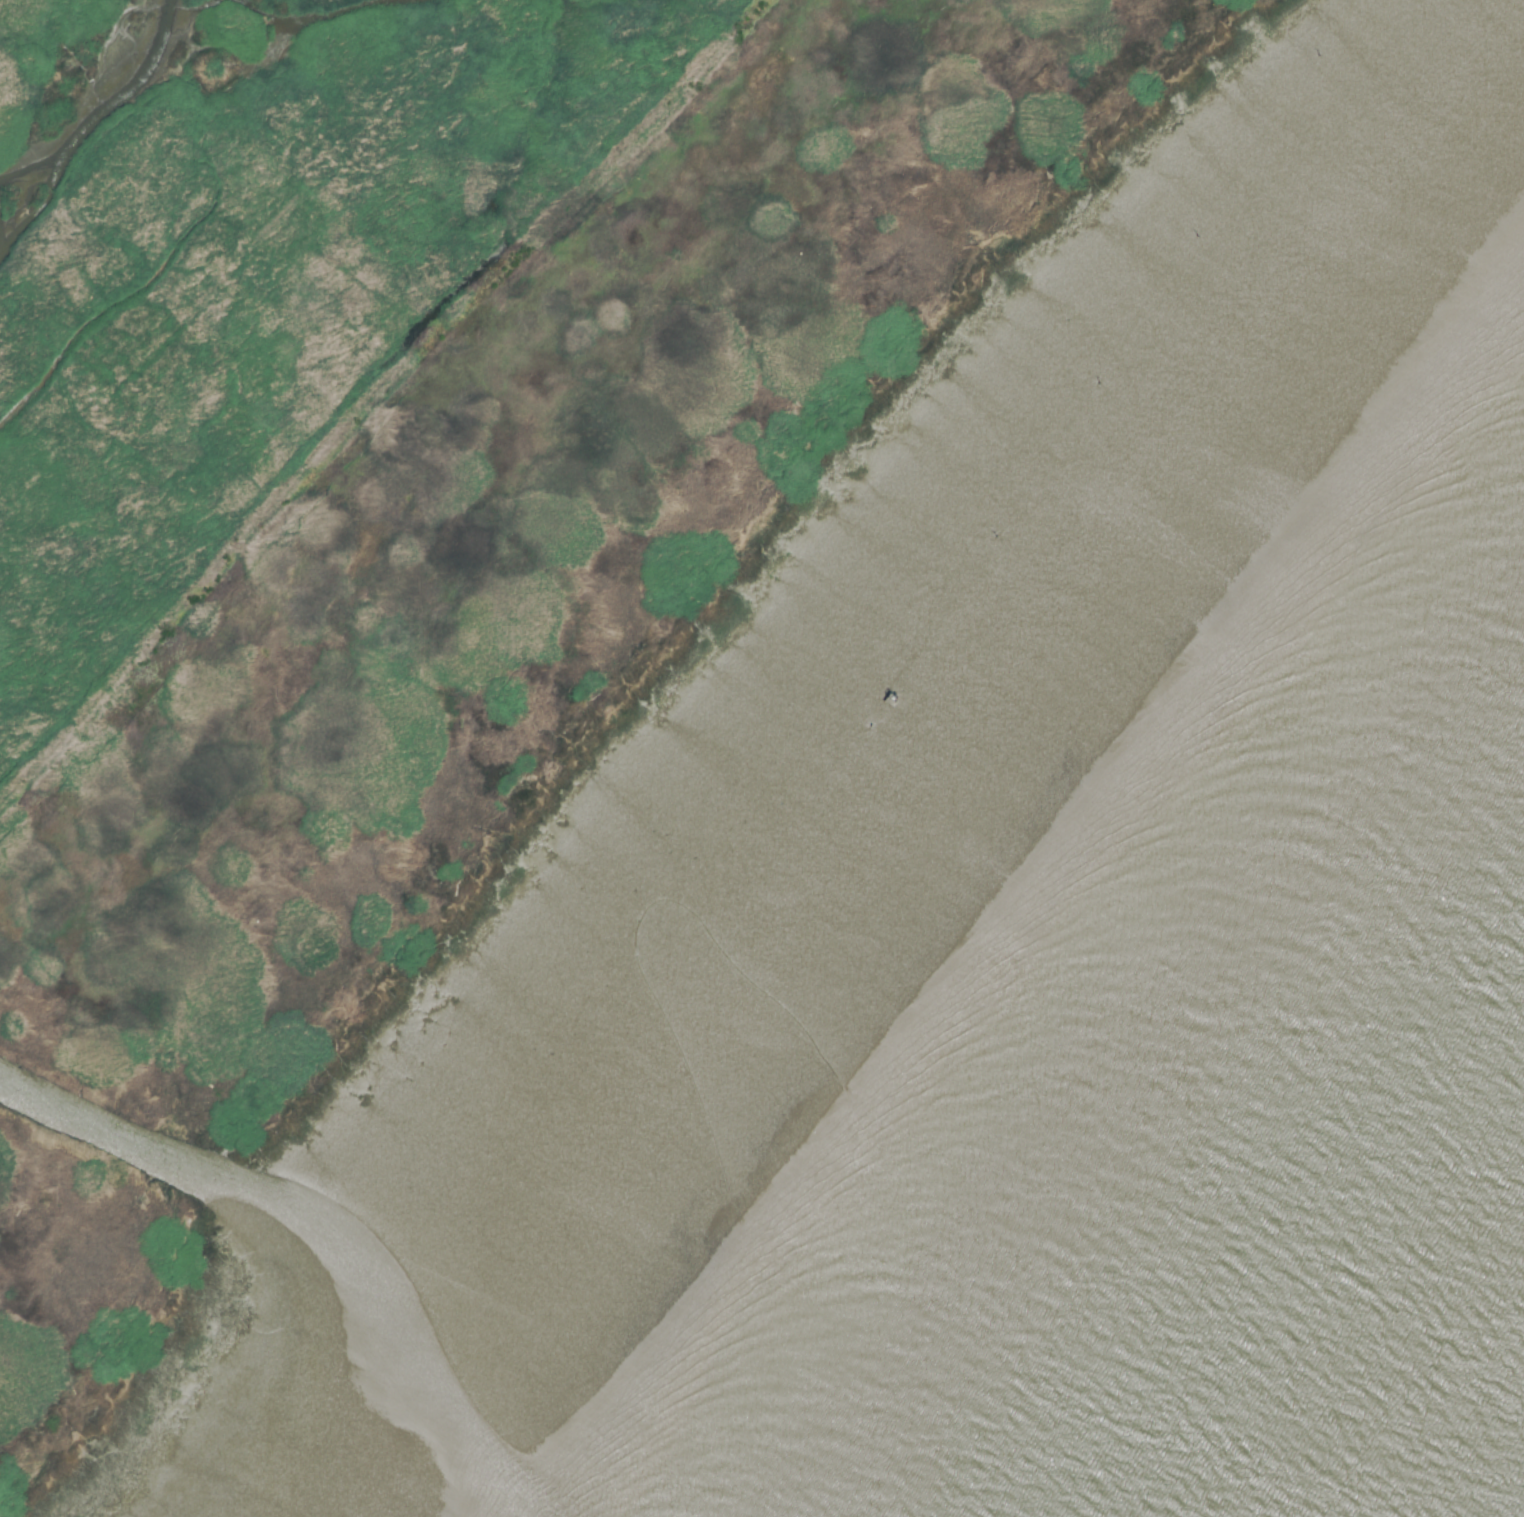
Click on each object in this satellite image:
building: (890, 701)

